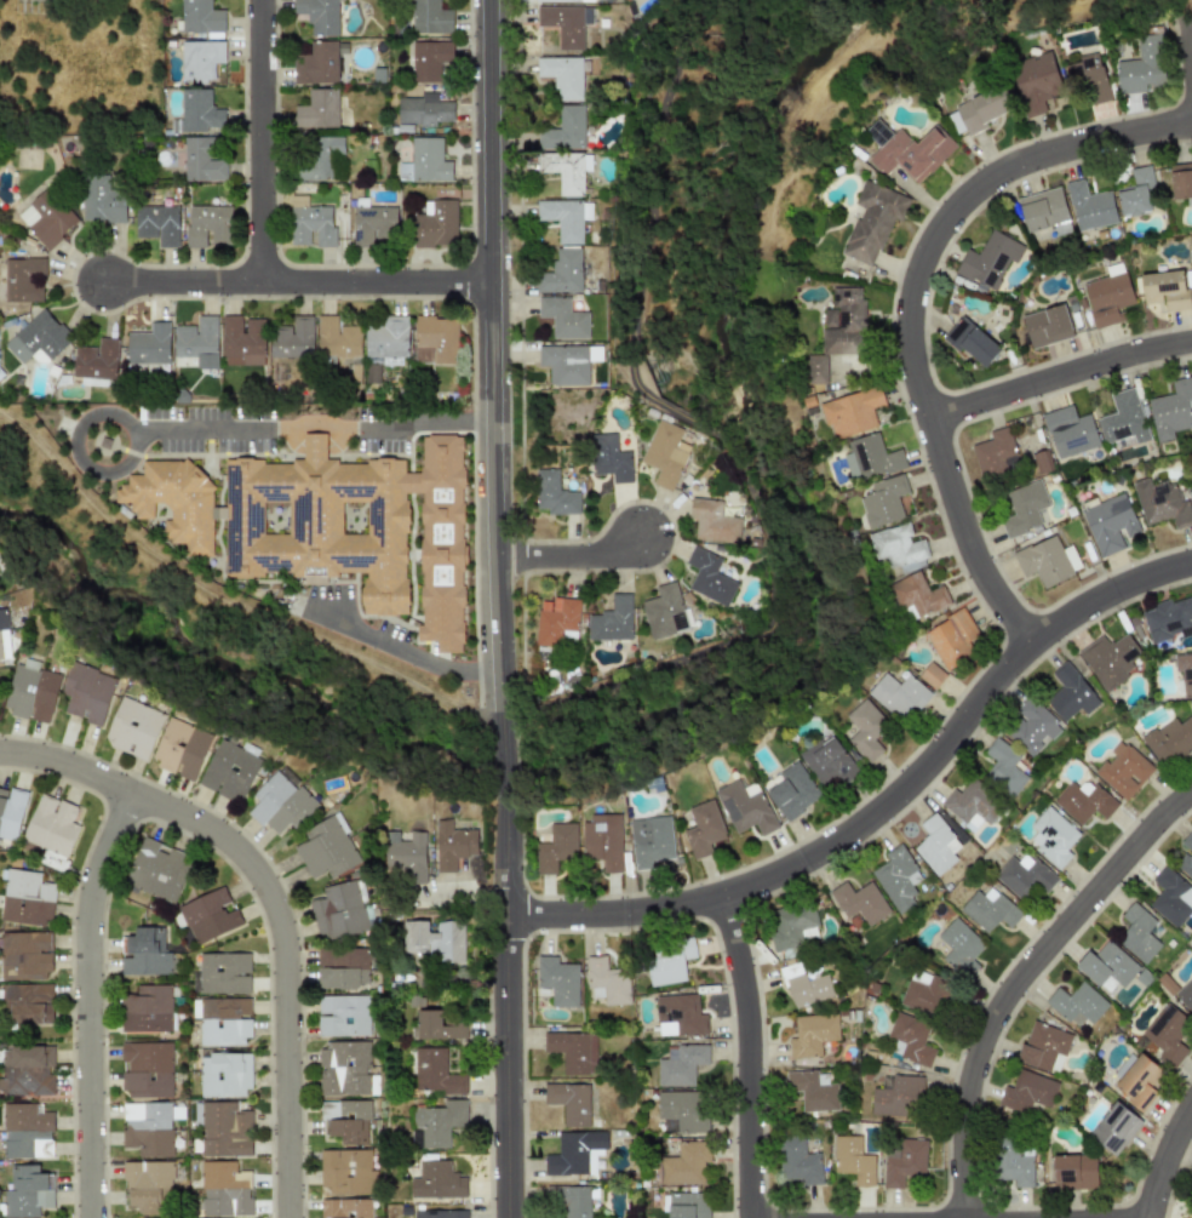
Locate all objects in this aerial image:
building: (562, 0)
building: (317, 16)
building: (200, 17)
building: (429, 17)
building: (565, 24)
building: (200, 59)
building: (429, 61)
building: (315, 63)
building: (1140, 67)
building: (561, 75)
building: (1089, 78)
building: (1035, 82)
building: (317, 109)
building: (422, 109)
building: (981, 109)
building: (196, 113)
building: (563, 131)
road: (263, 142)
building: (907, 150)
building: (317, 156)
building: (201, 161)
building: (424, 161)
building: (563, 170)
building: (1180, 179)
building: (1135, 193)
building: (99, 200)
building: (1089, 206)
building: (1042, 208)
building: (46, 218)
building: (561, 219)
building: (872, 221)
building: (309, 223)
building: (156, 224)
building: (372, 224)
building: (435, 224)
building: (207, 225)
building: (988, 259)
building: (560, 273)
building: (21, 280)
road: (299, 282)
building: (1164, 290)
building: (1107, 297)
road: (910, 304)
building: (562, 318)
building: (843, 322)
building: (1045, 326)
building: (385, 337)
building: (36, 338)
building: (291, 338)
building: (334, 338)
building: (434, 339)
building: (241, 341)
building: (196, 342)
building: (972, 343)
building: (148, 344)
building: (94, 360)
building: (563, 365)
building: (815, 368)
road: (492, 370)
road: (1060, 376)
building: (1170, 410)
building: (849, 412)
building: (1123, 419)
road: (82, 422)
road: (710, 430)
road: (314, 431)
building: (1068, 431)
building: (993, 452)
building: (663, 454)
building: (608, 458)
building: (869, 458)
building: (552, 493)
building: (883, 501)
building: (1161, 503)
building: (1022, 508)
building: (253, 516)
building: (712, 522)
building: (1108, 524)
building: (372, 536)
building: (896, 548)
road: (574, 559)
building: (1047, 561)
building: (707, 577)
building: (915, 595)
building: (663, 611)
building: (2, 619)
building: (554, 619)
building: (1168, 619)
building: (611, 621)
building: (952, 639)
building: (0, 650)
road: (408, 653)
building: (1108, 659)
building: (1184, 673)
building: (930, 675)
building: (30, 691)
building: (87, 694)
building: (899, 694)
building: (1070, 694)
building: (1031, 727)
building: (133, 728)
building: (865, 728)
building: (1169, 740)
building: (180, 748)
building: (827, 761)
building: (1003, 767)
building: (1123, 770)
building: (229, 771)
road: (506, 771)
building: (792, 791)
building: (1083, 801)
building: (280, 804)
building: (970, 806)
road: (883, 807)
building: (744, 808)
building: (10, 812)
building: (51, 825)
building: (703, 828)
building: (1051, 836)
building: (602, 841)
building: (651, 841)
building: (452, 845)
building: (936, 845)
building: (556, 847)
building: (327, 848)
building: (406, 856)
building: (157, 870)
building: (1024, 875)
building: (896, 879)
building: (1170, 897)
building: (25, 898)
road: (273, 899)
building: (859, 902)
building: (988, 909)
building: (338, 910)
building: (210, 915)
building: (789, 925)
building: (1137, 933)
building: (435, 940)
building: (959, 947)
building: (143, 953)
building: (24, 955)
building: (669, 961)
building: (1106, 965)
building: (342, 967)
building: (222, 973)
road: (1019, 978)
building: (557, 980)
building: (603, 983)
building: (804, 987)
building: (924, 994)
building: (1186, 994)
road: (88, 1002)
building: (27, 1003)
building: (1077, 1003)
building: (145, 1010)
road: (509, 1010)
building: (343, 1016)
building: (678, 1016)
building: (224, 1022)
building: (440, 1025)
building: (812, 1034)
building: (1165, 1034)
building: (911, 1039)
building: (1044, 1047)
building: (573, 1051)
road: (747, 1058)
building: (681, 1064)
building: (343, 1068)
building: (147, 1069)
building: (27, 1070)
building: (435, 1071)
building: (224, 1075)
building: (1139, 1079)
building: (814, 1091)
building: (1027, 1092)
building: (896, 1096)
building: (569, 1103)
building: (681, 1111)
building: (344, 1121)
building: (439, 1122)
building: (148, 1128)
building: (1114, 1128)
building: (224, 1130)
building: (25, 1132)
building: (575, 1154)
building: (854, 1160)
building: (798, 1161)
building: (902, 1161)
road: (1163, 1162)
building: (1012, 1163)
building: (686, 1165)
building: (344, 1171)
building: (1073, 1172)
building: (436, 1180)
building: (223, 1190)
building: (27, 1191)
building: (1191, 1193)
building: (569, 1201)
building: (686, 1205)
building: (344, 1208)
building: (439, 1213)

